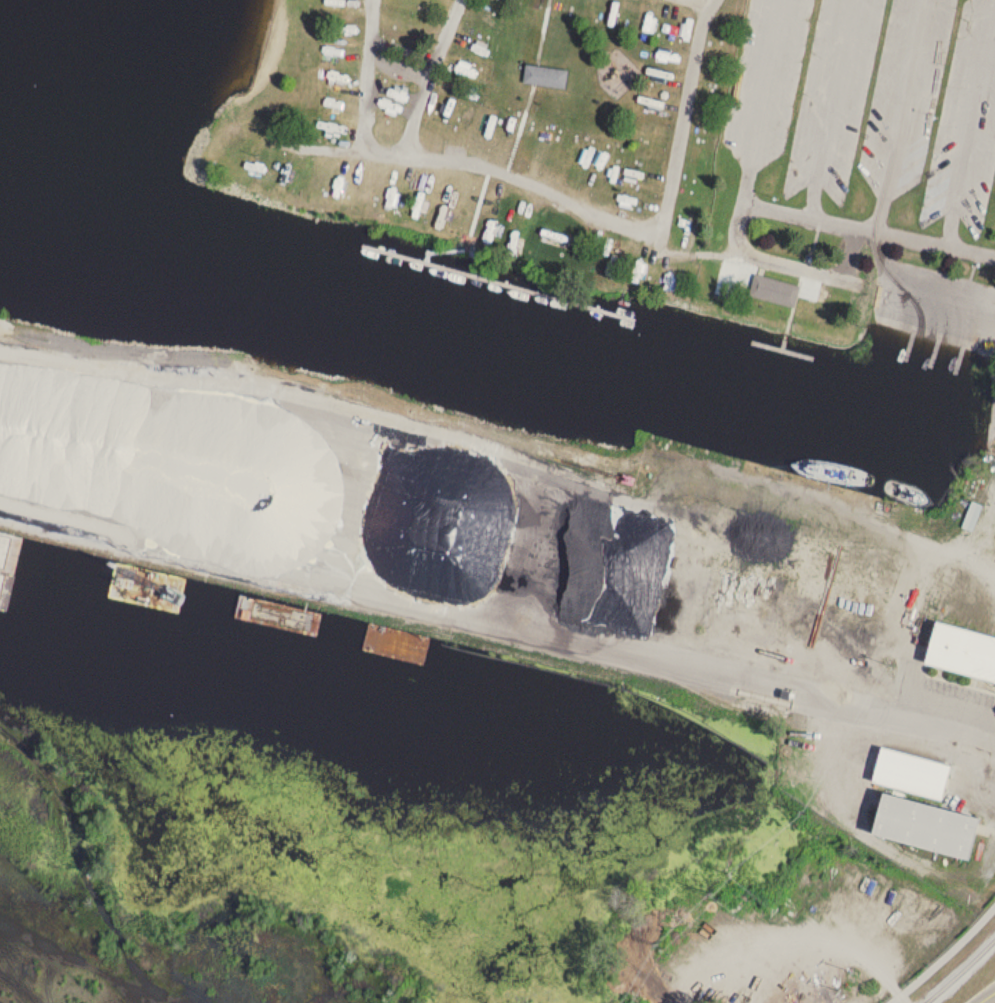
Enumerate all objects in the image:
road: (688, 5)
building: (548, 76)
road: (358, 102)
road: (830, 107)
parking lot: (866, 107)
road: (900, 114)
road: (683, 121)
road: (969, 121)
road: (326, 148)
road: (497, 180)
road: (768, 206)
road: (842, 280)
building: (776, 292)
building: (965, 650)
road: (954, 727)
building: (917, 772)
building: (933, 825)
road: (942, 956)
railway: (959, 970)
road: (987, 997)

